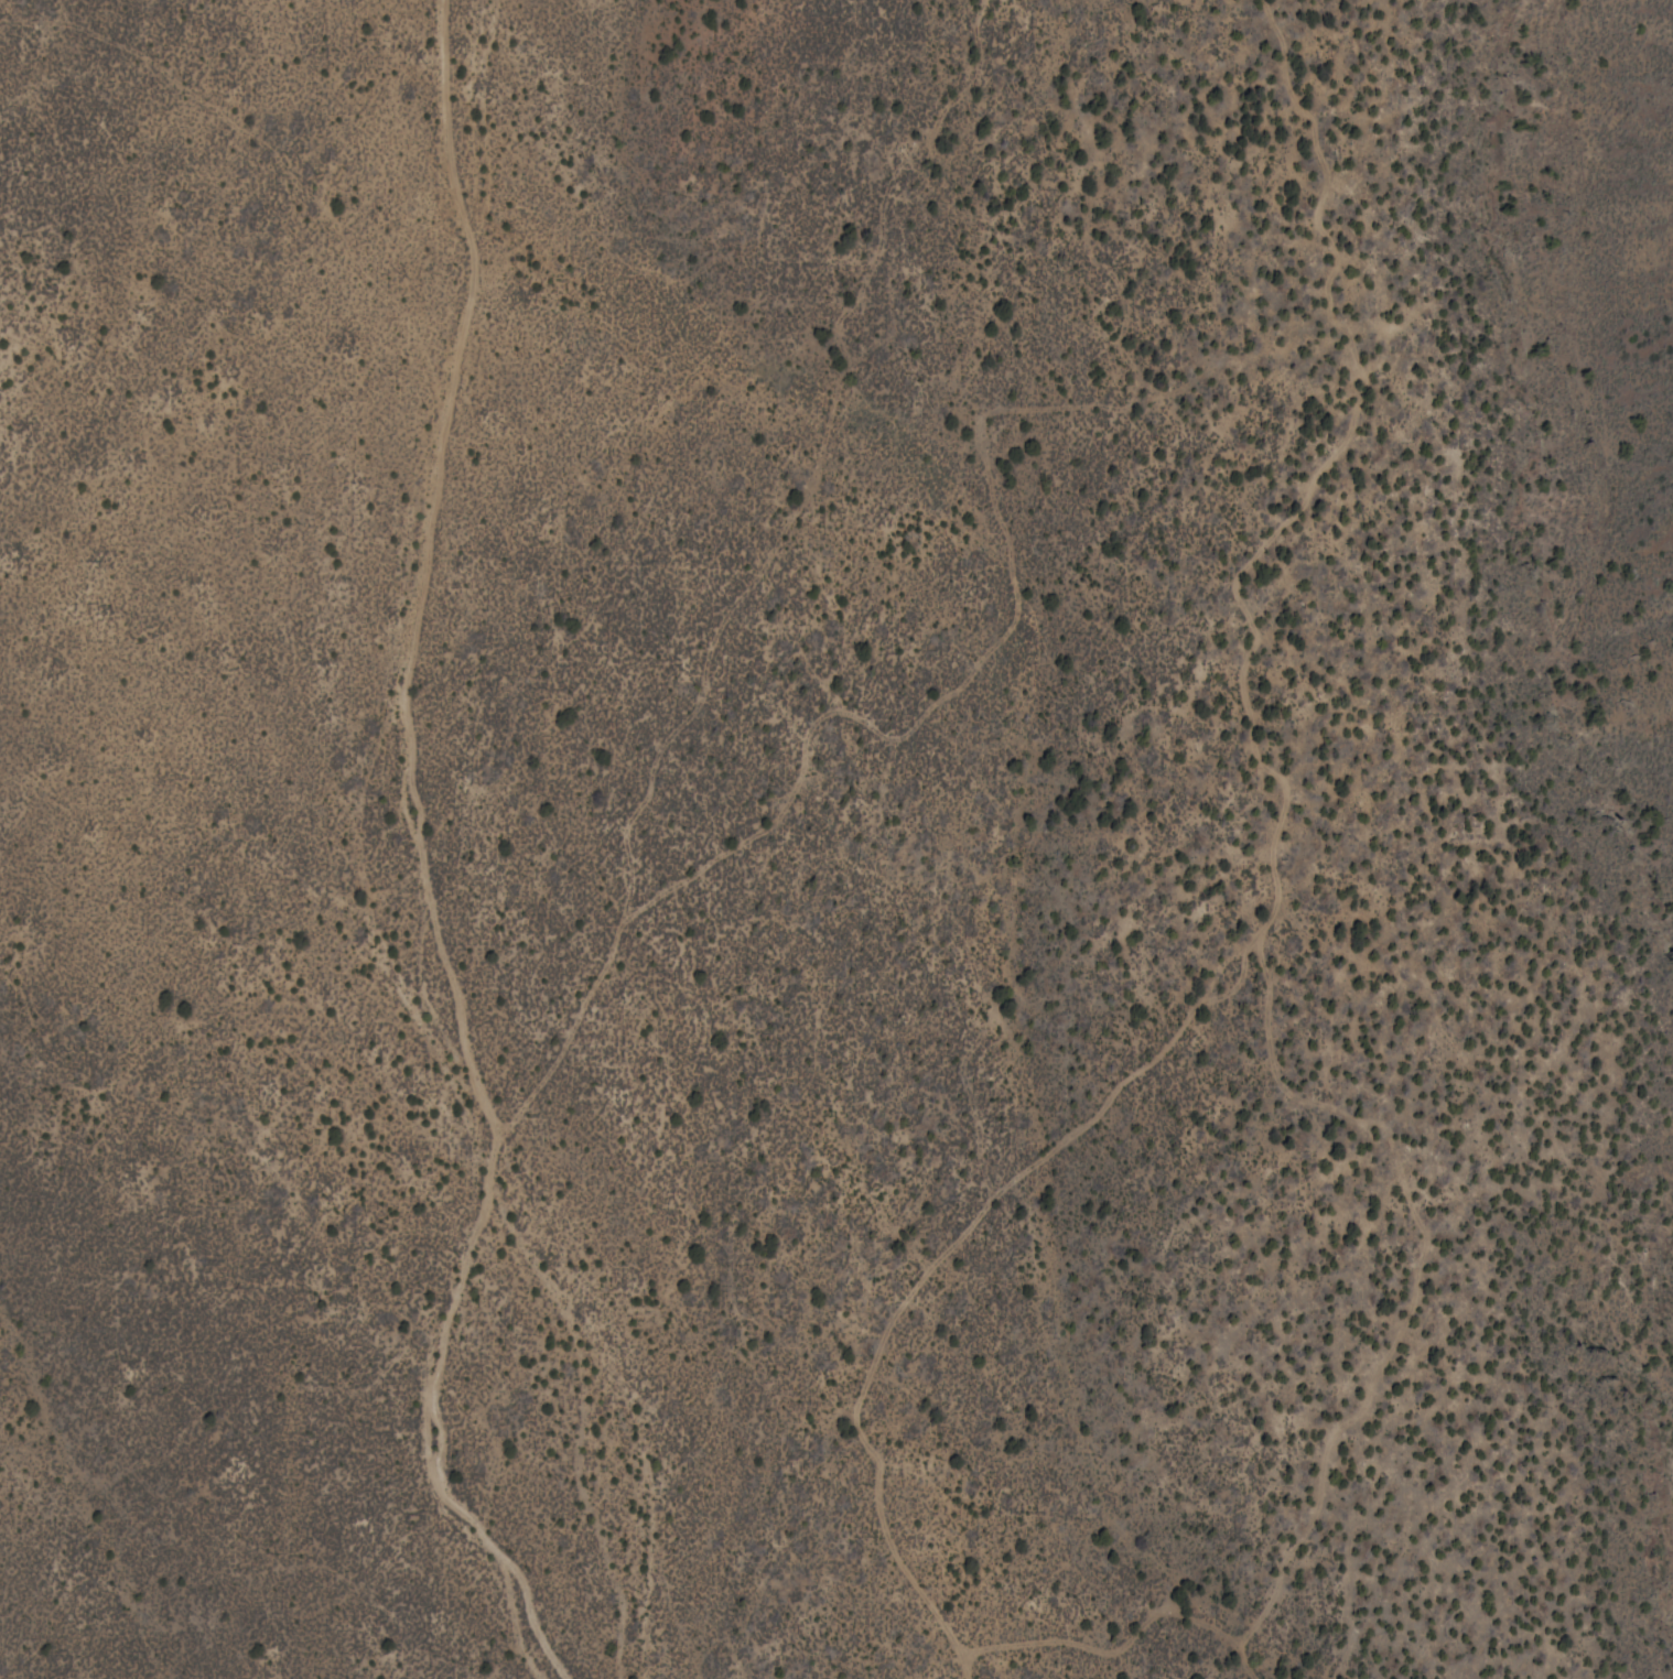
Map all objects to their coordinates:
road: (474, 856)

